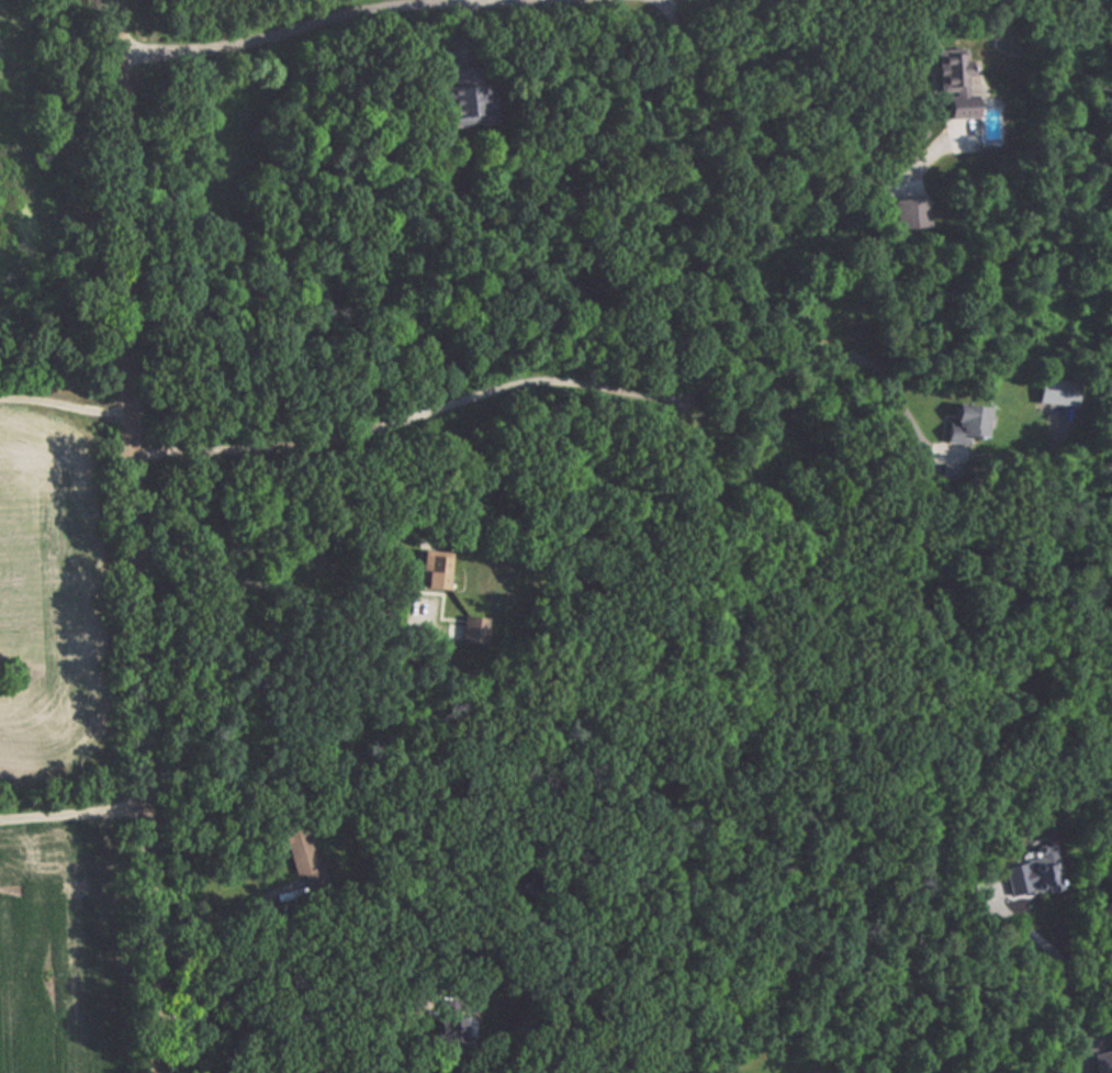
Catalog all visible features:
road: (462, 1)
road: (303, 26)
building: (954, 80)
road: (761, 176)
building: (911, 202)
road: (539, 379)
road: (60, 402)
building: (966, 424)
road: (125, 536)
building: (435, 565)
road: (279, 590)
building: (304, 853)
building: (1029, 873)
road: (1066, 975)
road: (283, 1017)
building: (1103, 1062)

